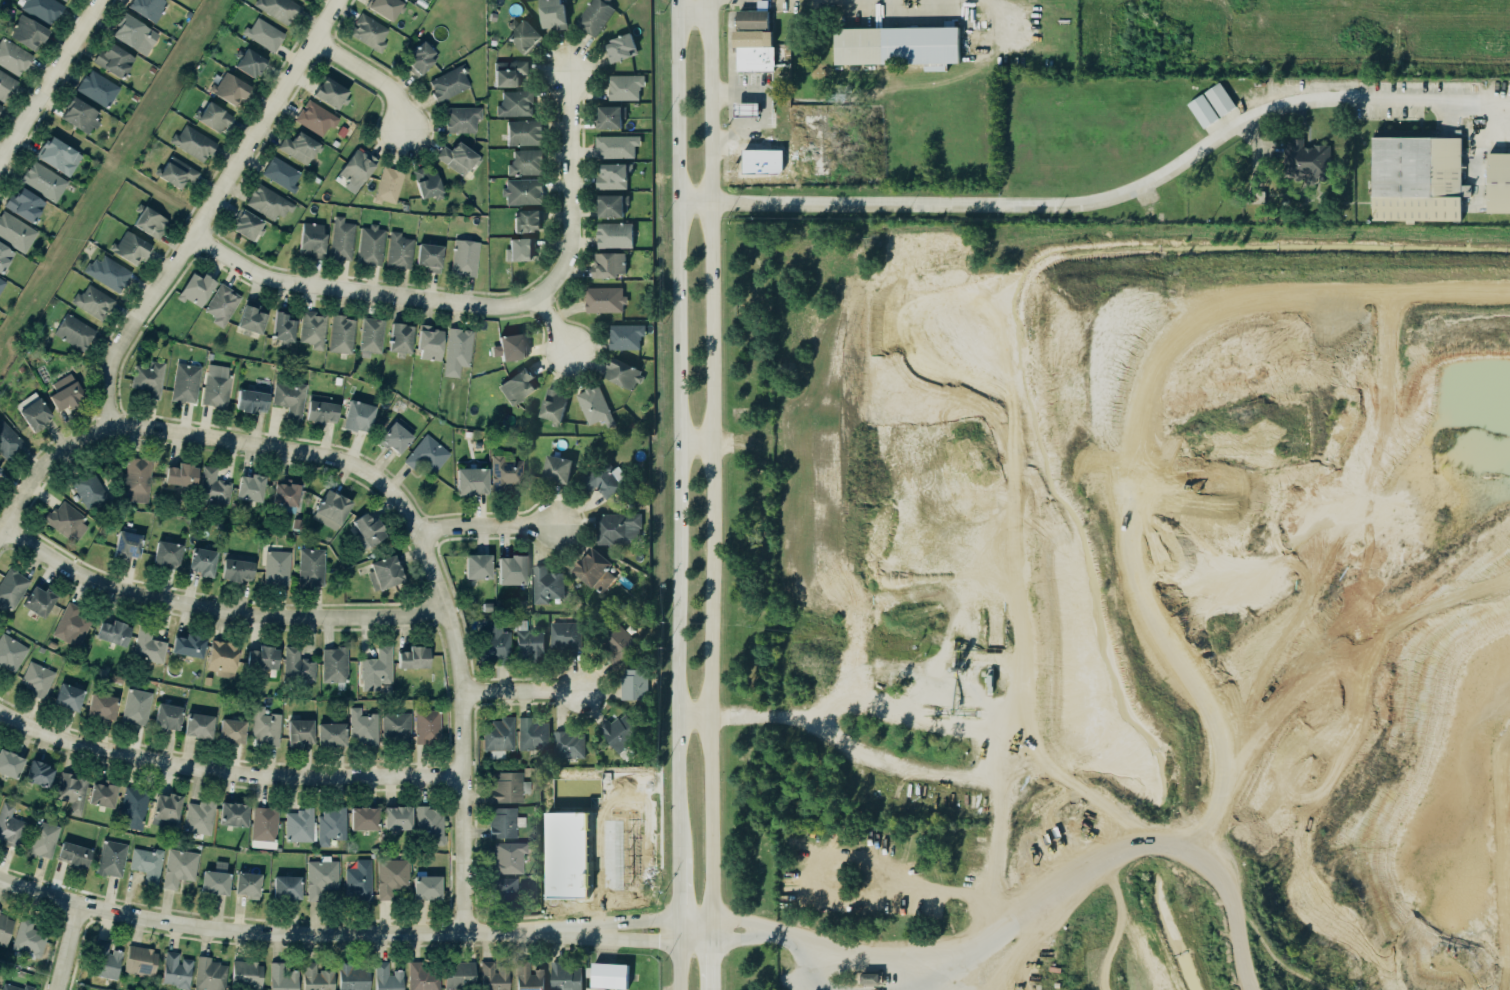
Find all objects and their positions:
building: (63, 0)
building: (68, 0)
building: (147, 7)
building: (385, 7)
building: (279, 8)
building: (42, 9)
road: (697, 13)
building: (551, 14)
road: (996, 14)
building: (593, 16)
building: (752, 19)
building: (129, 30)
building: (26, 31)
building: (368, 31)
building: (264, 33)
building: (522, 33)
building: (898, 46)
building: (619, 47)
building: (754, 50)
building: (12, 55)
building: (419, 57)
building: (112, 58)
building: (248, 61)
building: (509, 73)
road: (369, 77)
road: (49, 79)
building: (448, 82)
building: (6, 84)
building: (623, 85)
building: (98, 88)
building: (230, 89)
road: (733, 92)
building: (331, 93)
building: (1220, 99)
building: (514, 103)
building: (0, 107)
road: (746, 109)
building: (747, 109)
building: (1203, 111)
building: (78, 114)
building: (608, 115)
building: (213, 116)
building: (314, 117)
building: (461, 119)
road: (1498, 121)
building: (523, 131)
road: (738, 134)
building: (192, 141)
building: (615, 145)
building: (299, 147)
building: (59, 155)
building: (457, 157)
building: (1305, 160)
building: (763, 161)
building: (526, 163)
building: (357, 169)
building: (177, 172)
building: (282, 173)
building: (611, 175)
building: (1417, 178)
building: (42, 180)
building: (427, 182)
building: (1498, 183)
building: (387, 184)
road: (570, 189)
building: (521, 191)
road: (1100, 200)
building: (267, 202)
building: (23, 203)
building: (610, 204)
road: (210, 210)
building: (528, 221)
building: (150, 222)
building: (247, 224)
building: (15, 231)
building: (614, 235)
building: (310, 238)
building: (340, 238)
building: (371, 245)
building: (129, 247)
building: (521, 249)
building: (397, 250)
building: (4, 255)
building: (429, 256)
building: (462, 257)
building: (608, 265)
building: (106, 271)
building: (1, 282)
building: (194, 287)
road: (360, 291)
building: (605, 300)
building: (92, 301)
building: (222, 304)
building: (250, 315)
building: (281, 327)
road: (552, 327)
building: (311, 328)
building: (74, 331)
building: (340, 333)
building: (371, 336)
building: (625, 336)
building: (400, 339)
building: (429, 342)
building: (456, 346)
building: (510, 347)
building: (623, 374)
building: (148, 377)
building: (186, 382)
building: (517, 384)
building: (216, 386)
building: (65, 395)
building: (288, 398)
building: (250, 400)
building: (551, 405)
building: (593, 405)
building: (321, 409)
building: (34, 413)
building: (357, 415)
road: (678, 426)
road: (1138, 432)
building: (396, 434)
building: (7, 440)
road: (696, 442)
building: (426, 454)
street lamp: (363, 458)
building: (0, 467)
building: (556, 468)
road: (43, 469)
road: (713, 470)
building: (503, 472)
building: (181, 474)
building: (137, 479)
building: (470, 480)
building: (603, 481)
building: (248, 486)
building: (211, 488)
building: (89, 489)
building: (284, 493)
building: (330, 508)
building: (64, 520)
road: (486, 525)
building: (616, 527)
building: (368, 528)
road: (429, 531)
street lamp: (494, 534)
road: (1332, 535)
street lamp: (412, 541)
building: (125, 544)
building: (166, 554)
building: (200, 561)
road: (428, 564)
building: (477, 566)
building: (277, 567)
building: (311, 567)
building: (235, 569)
building: (512, 569)
building: (592, 569)
building: (384, 572)
road: (448, 577)
building: (546, 584)
building: (11, 588)
building: (37, 600)
landfill: (1140, 606)
road: (216, 607)
road: (432, 608)
street lamp: (457, 614)
building: (71, 624)
building: (112, 631)
building: (565, 635)
road: (1381, 637)
building: (495, 642)
building: (186, 644)
building: (528, 644)
building: (618, 645)
building: (148, 646)
building: (10, 651)
building: (263, 657)
building: (412, 657)
building: (223, 658)
building: (335, 664)
building: (297, 665)
building: (375, 668)
building: (36, 678)
building: (634, 684)
road: (521, 689)
road: (472, 692)
building: (68, 696)
street lamp: (453, 700)
building: (102, 705)
building: (136, 707)
building: (166, 716)
building: (198, 725)
building: (395, 725)
building: (264, 726)
building: (363, 726)
building: (427, 727)
building: (232, 730)
building: (300, 732)
building: (619, 732)
building: (331, 733)
building: (497, 734)
building: (531, 734)
building: (566, 744)
building: (9, 762)
road: (225, 771)
building: (39, 773)
road: (937, 773)
building: (504, 786)
building: (72, 790)
building: (102, 793)
building: (134, 804)
building: (166, 809)
building: (233, 814)
building: (199, 817)
building: (362, 817)
building: (396, 817)
building: (501, 821)
building: (263, 822)
building: (298, 824)
building: (330, 824)
building: (10, 825)
building: (42, 839)
road: (1121, 852)
building: (72, 854)
building: (507, 856)
building: (110, 857)
building: (146, 863)
building: (177, 866)
building: (390, 877)
building: (358, 879)
building: (213, 881)
building: (248, 884)
building: (287, 886)
building: (427, 887)
building: (503, 888)
road: (679, 897)
building: (0, 910)
road: (656, 918)
road: (740, 920)
building: (5, 929)
street lamp: (646, 930)
road: (298, 932)
road: (738, 937)
road: (785, 937)
building: (28, 939)
road: (656, 939)
traffic signals: (657, 940)
road: (73, 946)
road: (603, 946)
road: (866, 953)
building: (105, 959)
building: (141, 960)
road: (679, 965)
road: (712, 966)
building: (175, 970)
road: (811, 971)
building: (210, 974)
building: (246, 974)
building: (460, 974)
building: (351, 976)
building: (494, 976)
building: (609, 976)
building: (315, 977)
building: (386, 977)
building: (423, 977)
building: (529, 977)
building: (565, 977)
road: (805, 977)
building: (868, 978)
building: (282, 979)
road: (915, 982)
building: (16, 987)
road: (904, 989)

